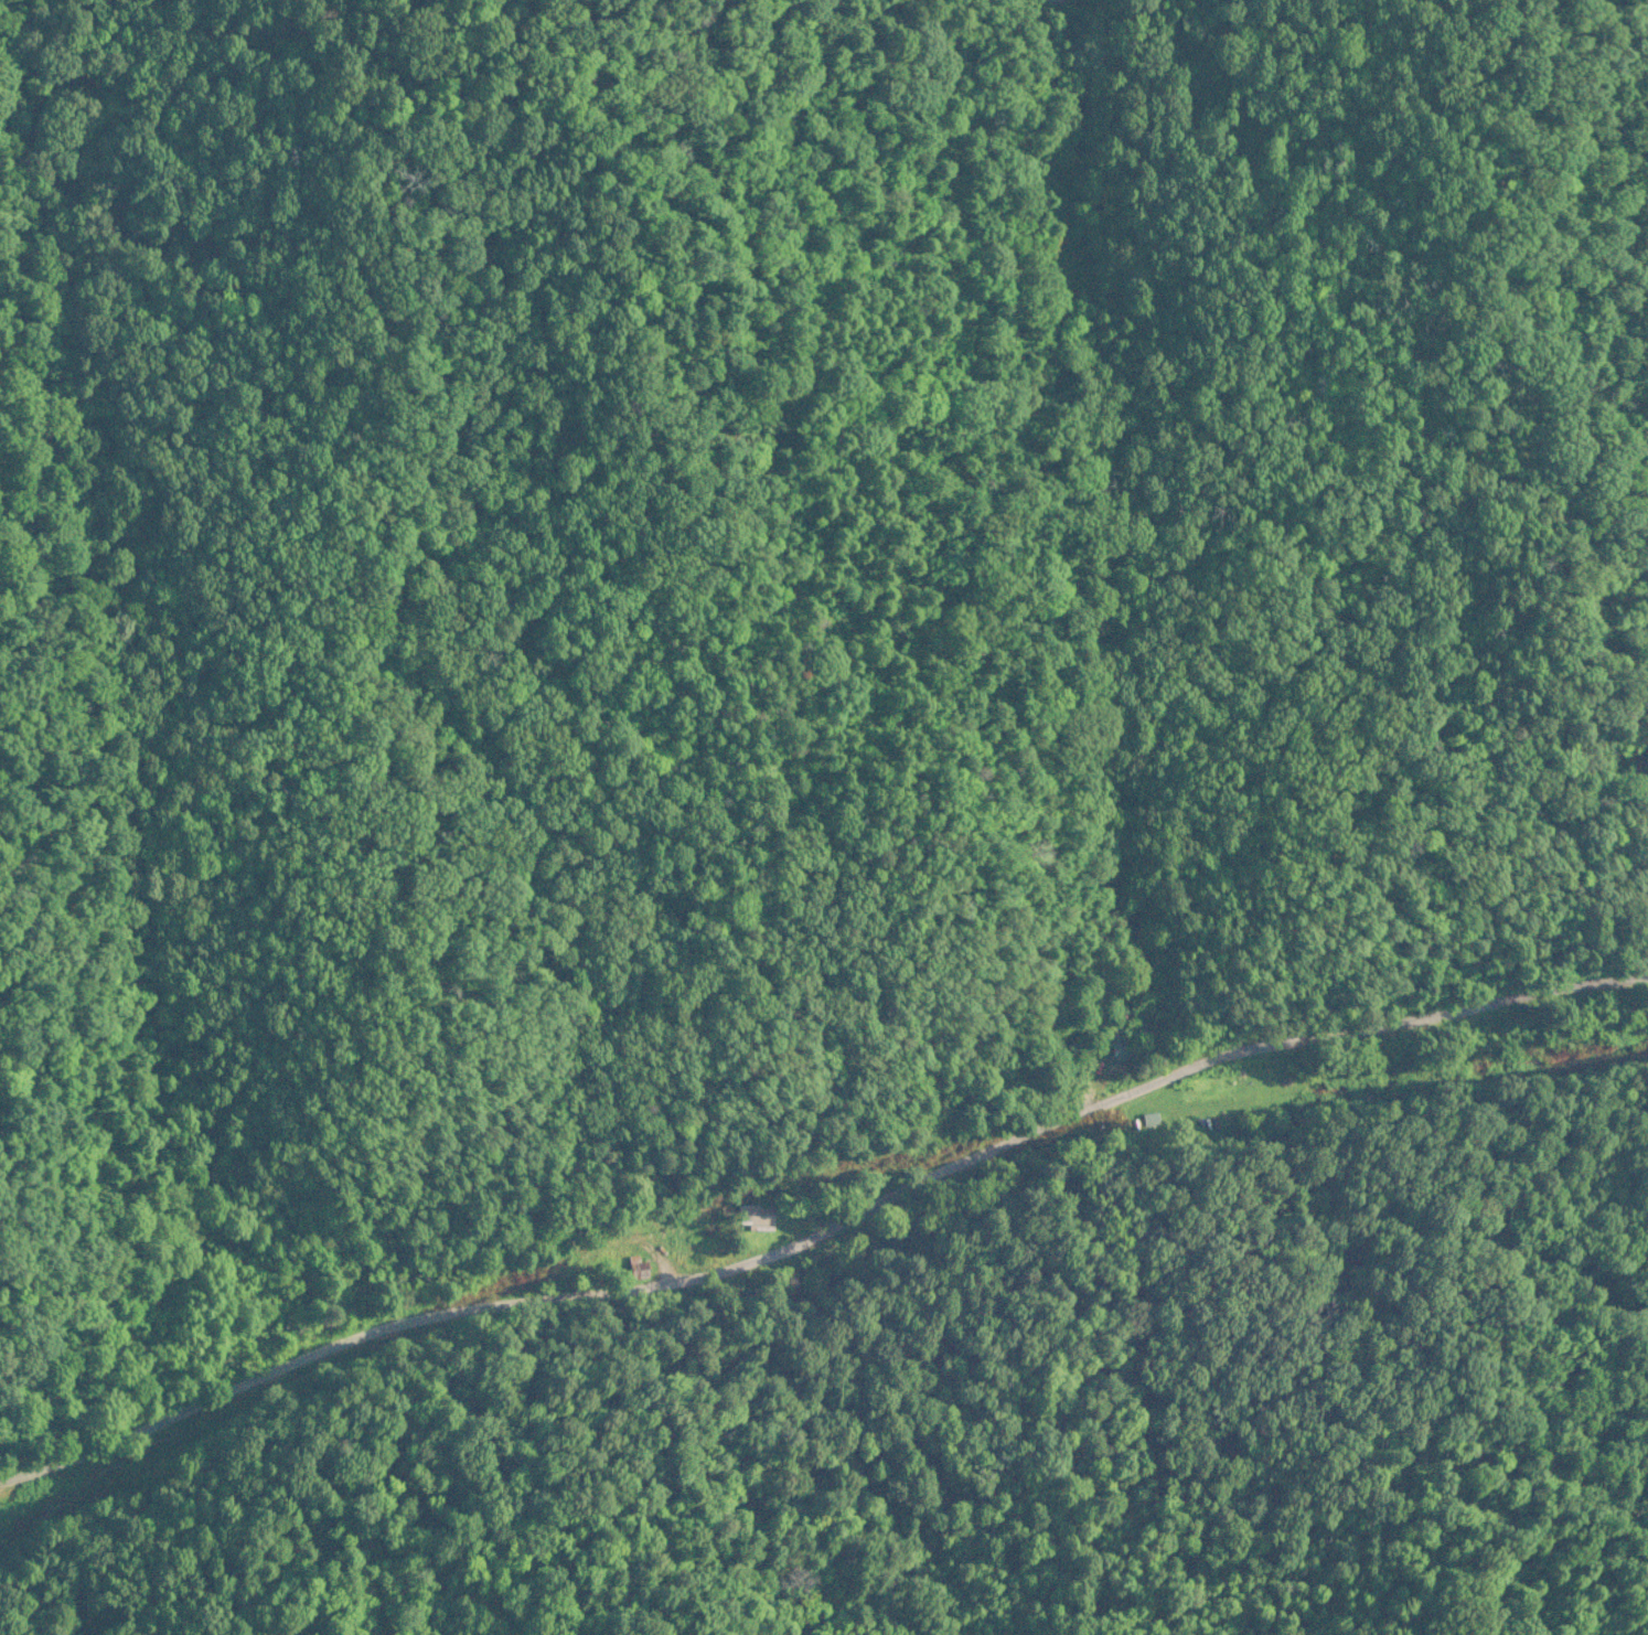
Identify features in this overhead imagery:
building: (1116, 1040)
building: (751, 1217)
road: (822, 1225)

